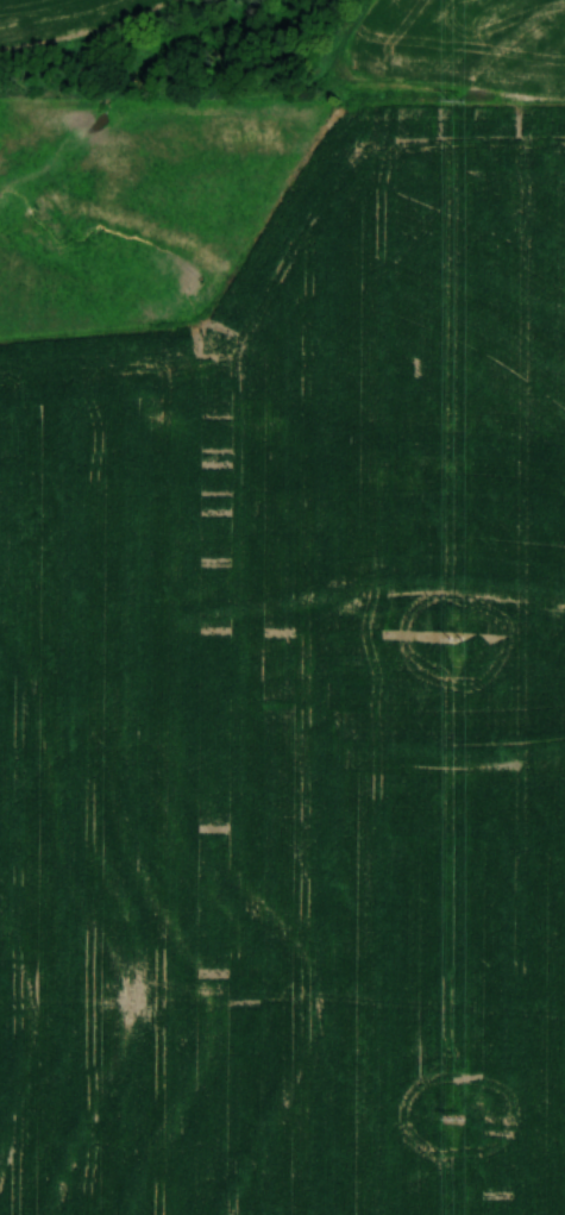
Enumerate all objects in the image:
power tower: (454, 99)
power tower: (457, 638)
power tower: (456, 1116)

